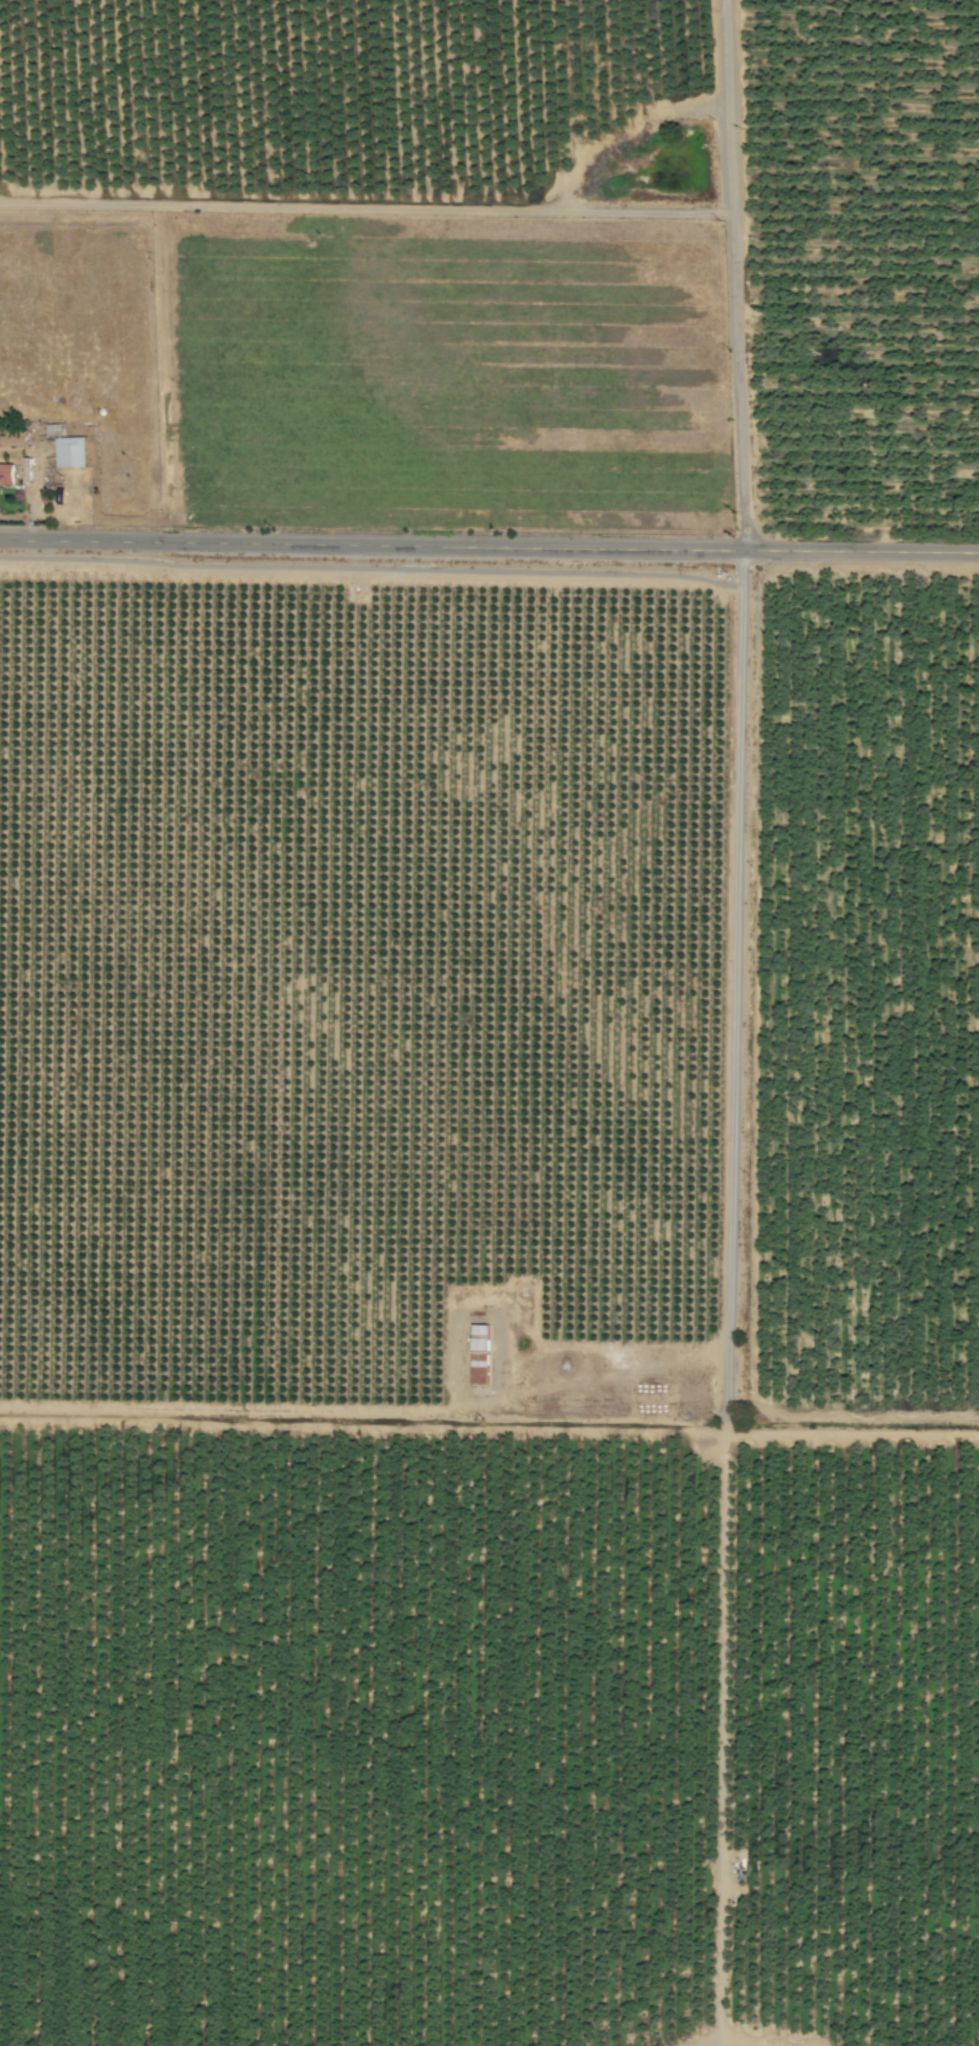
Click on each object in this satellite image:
road: (737, 274)
building: (54, 430)
building: (70, 452)
building: (6, 474)
road: (489, 546)
building: (479, 1354)

